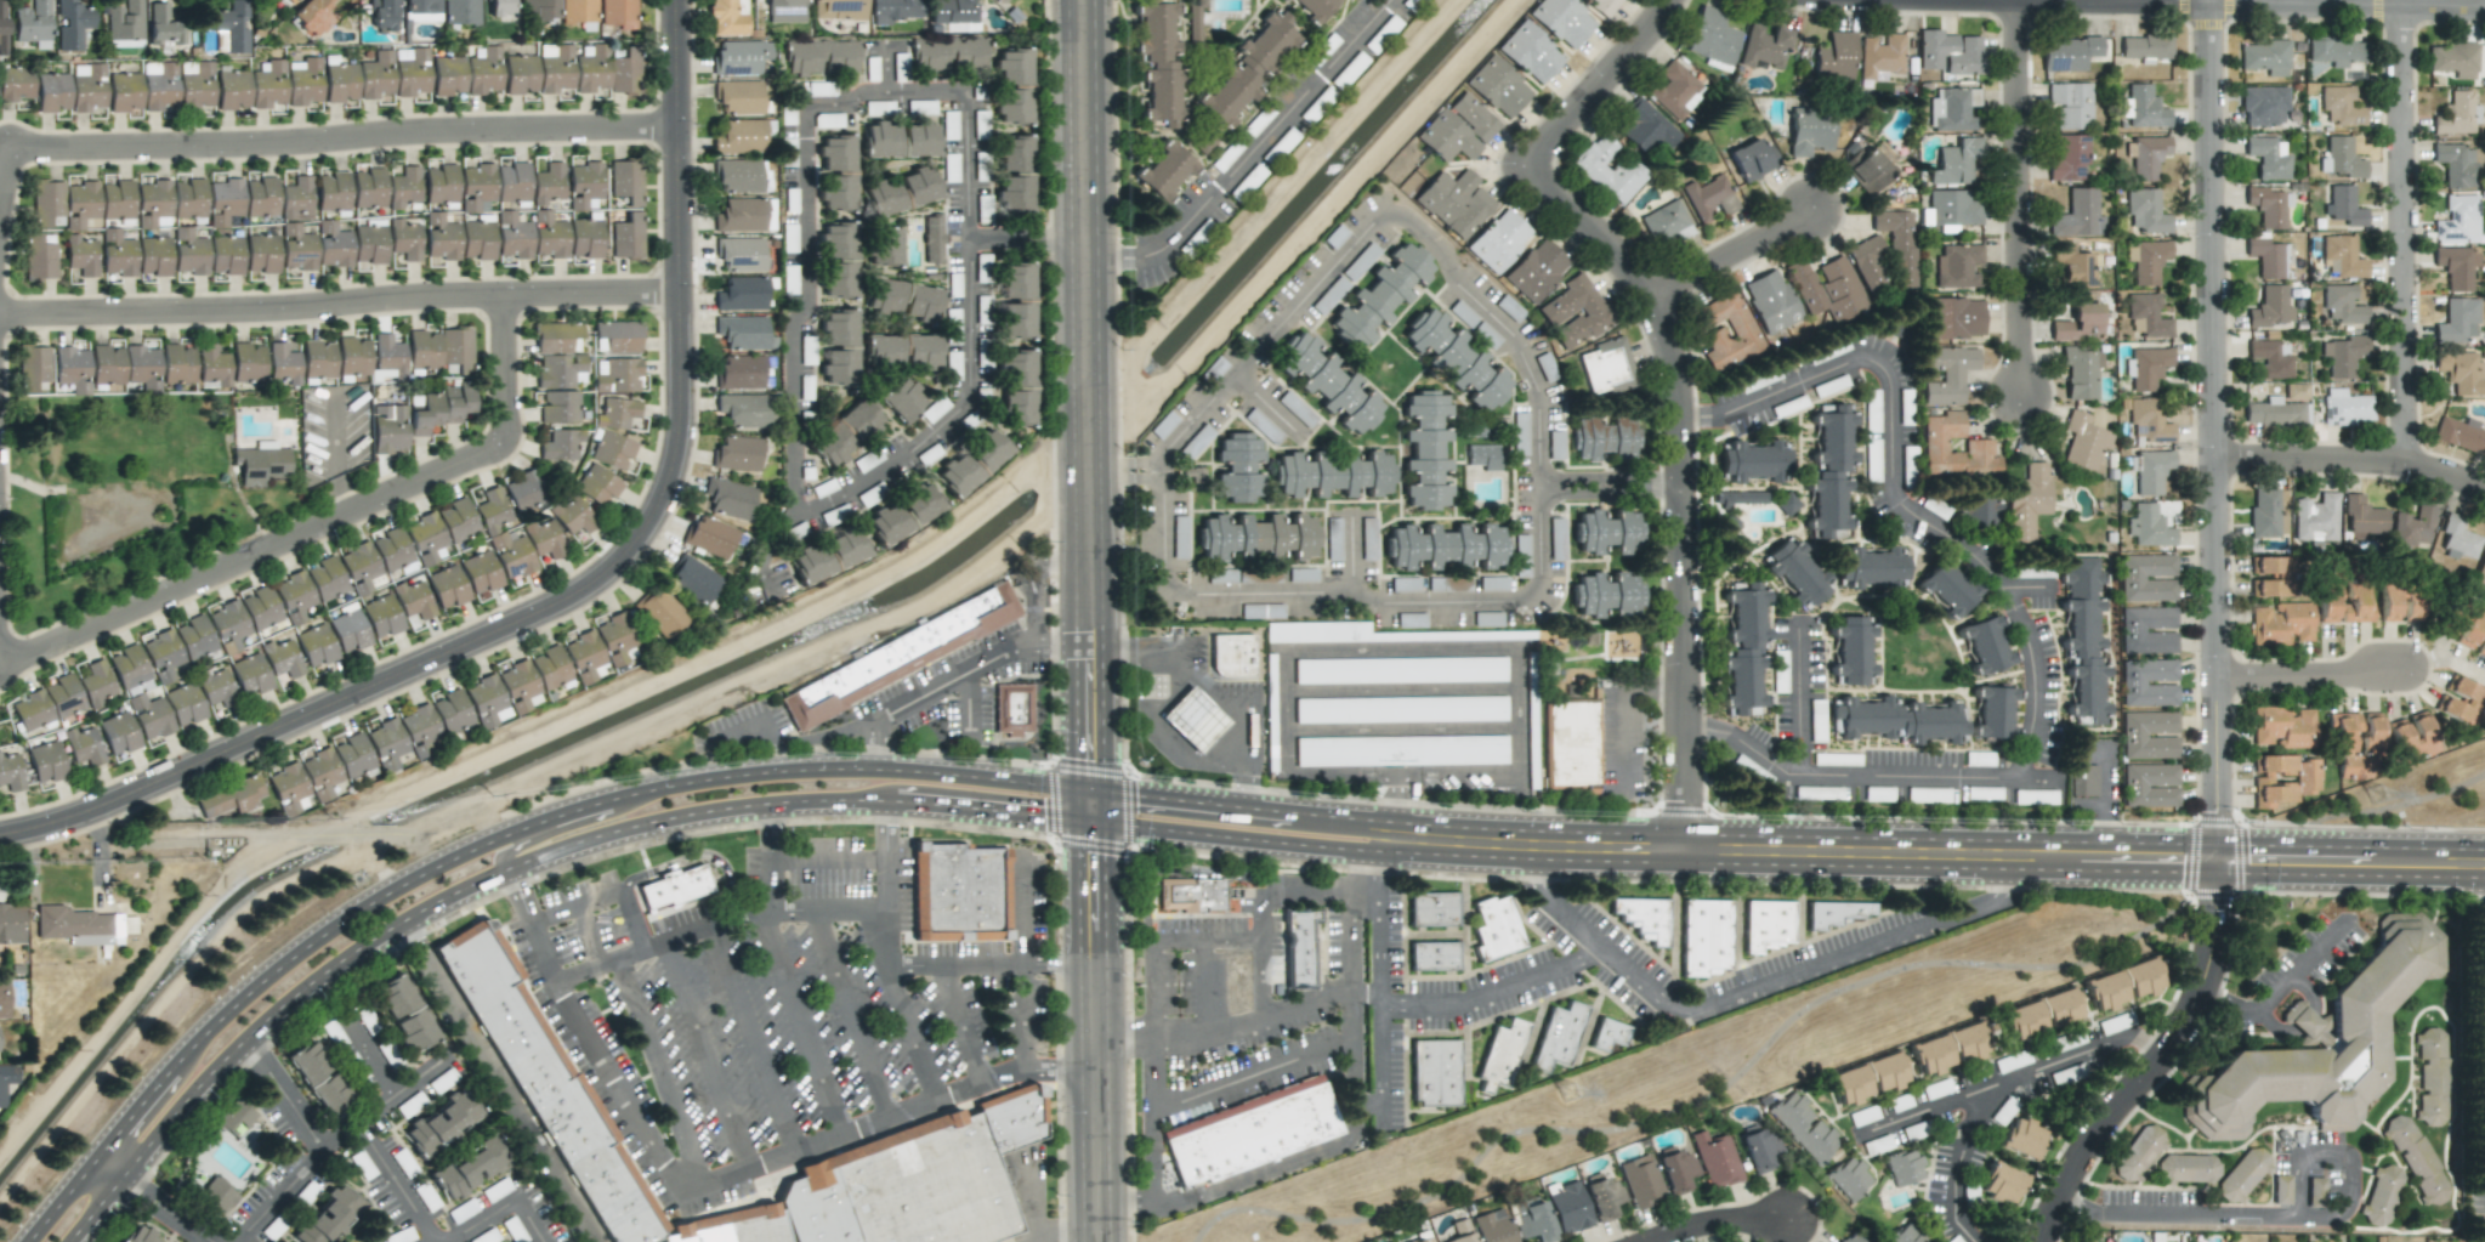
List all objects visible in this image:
building: (288, 1)
road: (2293, 4)
road: (2440, 4)
road: (2483, 4)
building: (421, 6)
building: (1602, 6)
road: (2268, 6)
building: (499, 7)
building: (1312, 7)
building: (538, 10)
building: (838, 10)
building: (895, 10)
building: (578, 11)
building: (785, 11)
building: (460, 12)
building: (382, 13)
building: (618, 13)
building: (953, 15)
building: (312, 16)
building: (421, 17)
building: (727, 18)
building: (1193, 18)
building: (125, 21)
building: (1562, 21)
building: (32, 22)
building: (72, 24)
building: (163, 27)
building: (232, 27)
building: (2, 28)
building: (1712, 39)
building: (1764, 45)
building: (2145, 46)
building: (2336, 51)
building: (1530, 52)
building: (1948, 52)
building: (2067, 53)
building: (948, 55)
building: (2265, 56)
building: (822, 57)
building: (1834, 57)
building: (1880, 57)
building: (742, 58)
building: (2453, 59)
building: (1157, 63)
building: (1248, 67)
building: (555, 68)
building: (591, 68)
road: (885, 68)
building: (870, 69)
building: (483, 70)
building: (410, 72)
building: (624, 72)
building: (520, 74)
building: (448, 75)
building: (376, 78)
building: (302, 81)
building: (15, 83)
building: (340, 83)
road: (1596, 84)
building: (268, 85)
building: (86, 86)
building: (159, 86)
building: (1012, 86)
building: (1498, 86)
building: (1675, 90)
building: (232, 91)
building: (51, 92)
building: (124, 93)
building: (738, 97)
building: (2070, 104)
building: (2263, 106)
building: (2341, 106)
building: (2143, 107)
building: (1952, 109)
building: (2456, 115)
building: (823, 119)
building: (1645, 126)
building: (1457, 129)
building: (1810, 131)
road: (346, 135)
building: (741, 136)
building: (898, 140)
building: (836, 152)
building: (787, 153)
road: (1250, 153)
road: (805, 155)
building: (2067, 157)
building: (2145, 157)
building: (2268, 157)
building: (2339, 157)
building: (1753, 159)
building: (1956, 163)
building: (2455, 165)
building: (1590, 169)
building: (1866, 170)
building: (1163, 171)
building: (742, 175)
building: (1012, 175)
building: (625, 181)
building: (439, 183)
building: (548, 183)
building: (583, 185)
building: (476, 186)
building: (368, 187)
building: (404, 187)
building: (331, 191)
building: (836, 191)
building: (901, 192)
road: (5, 195)
building: (260, 197)
building: (188, 198)
building: (1708, 198)
road: (2016, 198)
building: (117, 199)
building: (296, 199)
building: (223, 202)
building: (1454, 202)
building: (47, 203)
building: (80, 204)
building: (153, 204)
building: (2269, 205)
building: (2343, 206)
building: (1954, 208)
building: (2145, 211)
building: (745, 215)
building: (2077, 215)
building: (2457, 221)
building: (1666, 222)
building: (512, 236)
building: (549, 236)
building: (1335, 236)
road: (2402, 236)
building: (441, 237)
building: (626, 237)
building: (585, 238)
building: (789, 238)
building: (931, 238)
building: (404, 239)
building: (476, 240)
building: (1498, 240)
building: (1897, 244)
building: (333, 245)
building: (368, 246)
building: (884, 246)
building: (296, 248)
building: (189, 251)
road: (1727, 251)
building: (117, 254)
building: (225, 254)
building: (261, 254)
building: (741, 254)
building: (80, 256)
building: (153, 256)
building: (2266, 257)
building: (38, 259)
building: (838, 259)
building: (2146, 260)
building: (1868, 265)
building: (2071, 265)
building: (1957, 266)
building: (2456, 266)
building: (1537, 271)
building: (789, 279)
building: (1827, 289)
building: (742, 294)
building: (1379, 295)
building: (902, 299)
building: (1016, 300)
building: (1770, 301)
road: (340, 302)
building: (2342, 305)
building: (2269, 307)
building: (1575, 312)
building: (2148, 314)
building: (1953, 318)
building: (2457, 321)
building: (2078, 324)
building: (1742, 331)
building: (744, 333)
building: (617, 336)
building: (556, 338)
building: (839, 346)
building: (1445, 347)
building: (422, 350)
building: (455, 350)
building: (901, 350)
building: (1297, 355)
building: (2342, 355)
building: (352, 356)
building: (387, 357)
building: (2269, 358)
building: (317, 359)
building: (177, 363)
building: (246, 363)
building: (282, 364)
road: (507, 364)
building: (107, 365)
building: (212, 365)
building: (33, 367)
building: (1607, 367)
building: (2146, 367)
building: (142, 368)
building: (72, 369)
building: (557, 369)
building: (2080, 372)
building: (2461, 372)
building: (739, 373)
building: (1947, 374)
building: (618, 375)
building: (1331, 385)
building: (1017, 386)
building: (1488, 391)
building: (902, 399)
road: (1090, 402)
road: (1266, 402)
building: (558, 407)
building: (2345, 407)
building: (441, 408)
building: (744, 410)
road: (959, 410)
building: (615, 413)
building: (2275, 413)
building: (1361, 414)
building: (2148, 420)
building: (1163, 425)
building: (388, 429)
building: (845, 432)
building: (2461, 435)
building: (1606, 438)
building: (2082, 443)
building: (560, 444)
building: (1555, 446)
building: (1976, 446)
building: (612, 450)
building: (1425, 450)
road: (336, 453)
building: (737, 453)
building: (1483, 456)
building: (872, 458)
road: (2351, 460)
building: (1753, 461)
building: (972, 463)
building: (260, 464)
building: (1237, 467)
building: (1829, 471)
building: (2151, 471)
building: (1332, 473)
road: (1680, 483)
building: (597, 484)
road: (1610, 486)
road: (1541, 490)
building: (523, 492)
building: (730, 498)
building: (1737, 498)
building: (2026, 501)
building: (1786, 504)
building: (492, 510)
building: (903, 514)
building: (2265, 514)
building: (571, 516)
building: (2362, 517)
building: (2315, 518)
building: (456, 520)
building: (2148, 526)
building: (2412, 526)
building: (1607, 532)
building: (710, 537)
building: (1256, 537)
building: (425, 538)
building: (2457, 538)
building: (543, 539)
building: (1445, 546)
building: (391, 549)
road: (255, 552)
building: (511, 552)
building: (828, 555)
road: (1351, 557)
building: (358, 567)
building: (1521, 567)
building: (1870, 567)
building: (2480, 572)
building: (481, 573)
building: (1795, 573)
building: (2270, 575)
building: (2148, 578)
building: (325, 579)
building: (694, 580)
road: (598, 583)
building: (447, 586)
building: (1947, 588)
building: (2354, 591)
building: (1605, 594)
building: (293, 596)
building: (413, 599)
building: (2399, 601)
building: (660, 612)
road: (2016, 612)
building: (381, 616)
building: (2462, 622)
building: (2280, 624)
building: (227, 625)
building: (348, 629)
building: (2148, 630)
building: (1315, 631)
building: (194, 637)
building: (618, 639)
building: (2083, 640)
building: (314, 645)
building: (1984, 645)
road: (1451, 647)
building: (1743, 647)
road: (2217, 647)
building: (2481, 647)
building: (1853, 651)
road: (1067, 653)
building: (1231, 654)
building: (163, 656)
building: (584, 656)
building: (898, 656)
building: (280, 658)
road: (1, 659)
road: (999, 663)
road: (2446, 663)
building: (127, 667)
building: (550, 668)
building: (1390, 669)
road: (2311, 671)
building: (250, 675)
building: (2149, 682)
building: (96, 684)
building: (520, 686)
building: (216, 687)
road: (1222, 688)
road: (1401, 690)
building: (62, 696)
road: (1800, 701)
building: (487, 702)
building: (2462, 702)
building: (185, 704)
road: (968, 707)
building: (1012, 709)
building: (1398, 709)
road: (1619, 709)
building: (32, 710)
building: (1992, 711)
building: (149, 716)
building: (1192, 719)
building: (1897, 720)
building: (1270, 722)
building: (420, 727)
building: (2281, 727)
road: (1402, 730)
building: (118, 733)
building: (2149, 735)
road: (810, 737)
building: (2411, 737)
building: (2353, 744)
building: (1570, 745)
building: (83, 748)
building: (1400, 750)
building: (352, 755)
building: (46, 761)
building: (1531, 770)
building: (10, 773)
building: (2282, 778)
building: (2083, 779)
building: (305, 782)
building: (2149, 784)
building: (2033, 796)
power tower: (2376, 796)
building: (231, 798)
road: (1173, 800)
road: (2103, 803)
road: (796, 804)
road: (1315, 818)
road: (539, 820)
road: (572, 827)
road: (19, 834)
road: (768, 835)
road: (1238, 838)
road: (1930, 858)
road: (802, 863)
road: (730, 883)
building: (674, 887)
building: (959, 892)
building: (1191, 895)
road: (1023, 908)
building: (1432, 909)
road: (810, 913)
building: (1834, 913)
road: (632, 914)
building: (1643, 918)
building: (11, 924)
building: (127, 924)
building: (1766, 924)
building: (78, 925)
building: (1494, 928)
road: (588, 935)
road: (1236, 936)
building: (1703, 937)
building: (1299, 948)
road: (896, 954)
building: (1432, 955)
road: (2484, 962)
road: (1014, 963)
road: (1553, 968)
road: (1811, 968)
building: (2141, 977)
road: (1203, 981)
road: (2283, 985)
building: (2105, 989)
road: (291, 997)
building: (4, 998)
building: (404, 1013)
building: (2042, 1014)
road: (852, 1016)
building: (365, 1019)
road: (1100, 1023)
building: (2111, 1023)
road: (961, 1026)
road: (800, 1027)
building: (334, 1033)
building: (1607, 1034)
building: (1556, 1036)
road: (750, 1040)
building: (2322, 1043)
building: (1948, 1048)
road: (708, 1055)
building: (1499, 1055)
road: (1727, 1060)
building: (2010, 1061)
road: (1255, 1068)
building: (1435, 1073)
road: (658, 1074)
road: (2019, 1074)
building: (2430, 1077)
building: (319, 1078)
building: (1867, 1078)
building: (7, 1081)
road: (495, 1082)
building: (1935, 1089)
power tower: (1570, 1095)
road: (1358, 1098)
building: (574, 1105)
building: (234, 1115)
building: (442, 1122)
building: (1803, 1127)
road: (1153, 1129)
building: (1249, 1132)
road: (340, 1134)
road: (363, 1134)
building: (2020, 1138)
road: (319, 1142)
building: (1759, 1149)
building: (2138, 1153)
building: (2415, 1158)
building: (1717, 1159)
road: (109, 1166)
building: (469, 1167)
building: (1904, 1167)
building: (2186, 1168)
building: (1678, 1170)
road: (1954, 1170)
building: (2242, 1174)
building: (1849, 1178)
building: (917, 1179)
road: (716, 1181)
building: (1640, 1181)
building: (2001, 1183)
building: (2281, 1189)
building: (2381, 1195)
building: (216, 1197)
road: (57, 1198)
building: (1604, 1198)
road: (495, 1208)
building: (1568, 1208)
road: (98, 1209)
road: (168, 1209)
road: (2276, 1212)
building: (329, 1217)
building: (1534, 1221)
building: (1492, 1226)
road: (1721, 1226)
building: (1460, 1231)
road: (1072, 1232)
building: (1904, 1234)
building: (140, 1235)
building: (1850, 1238)
building: (1425, 1240)

